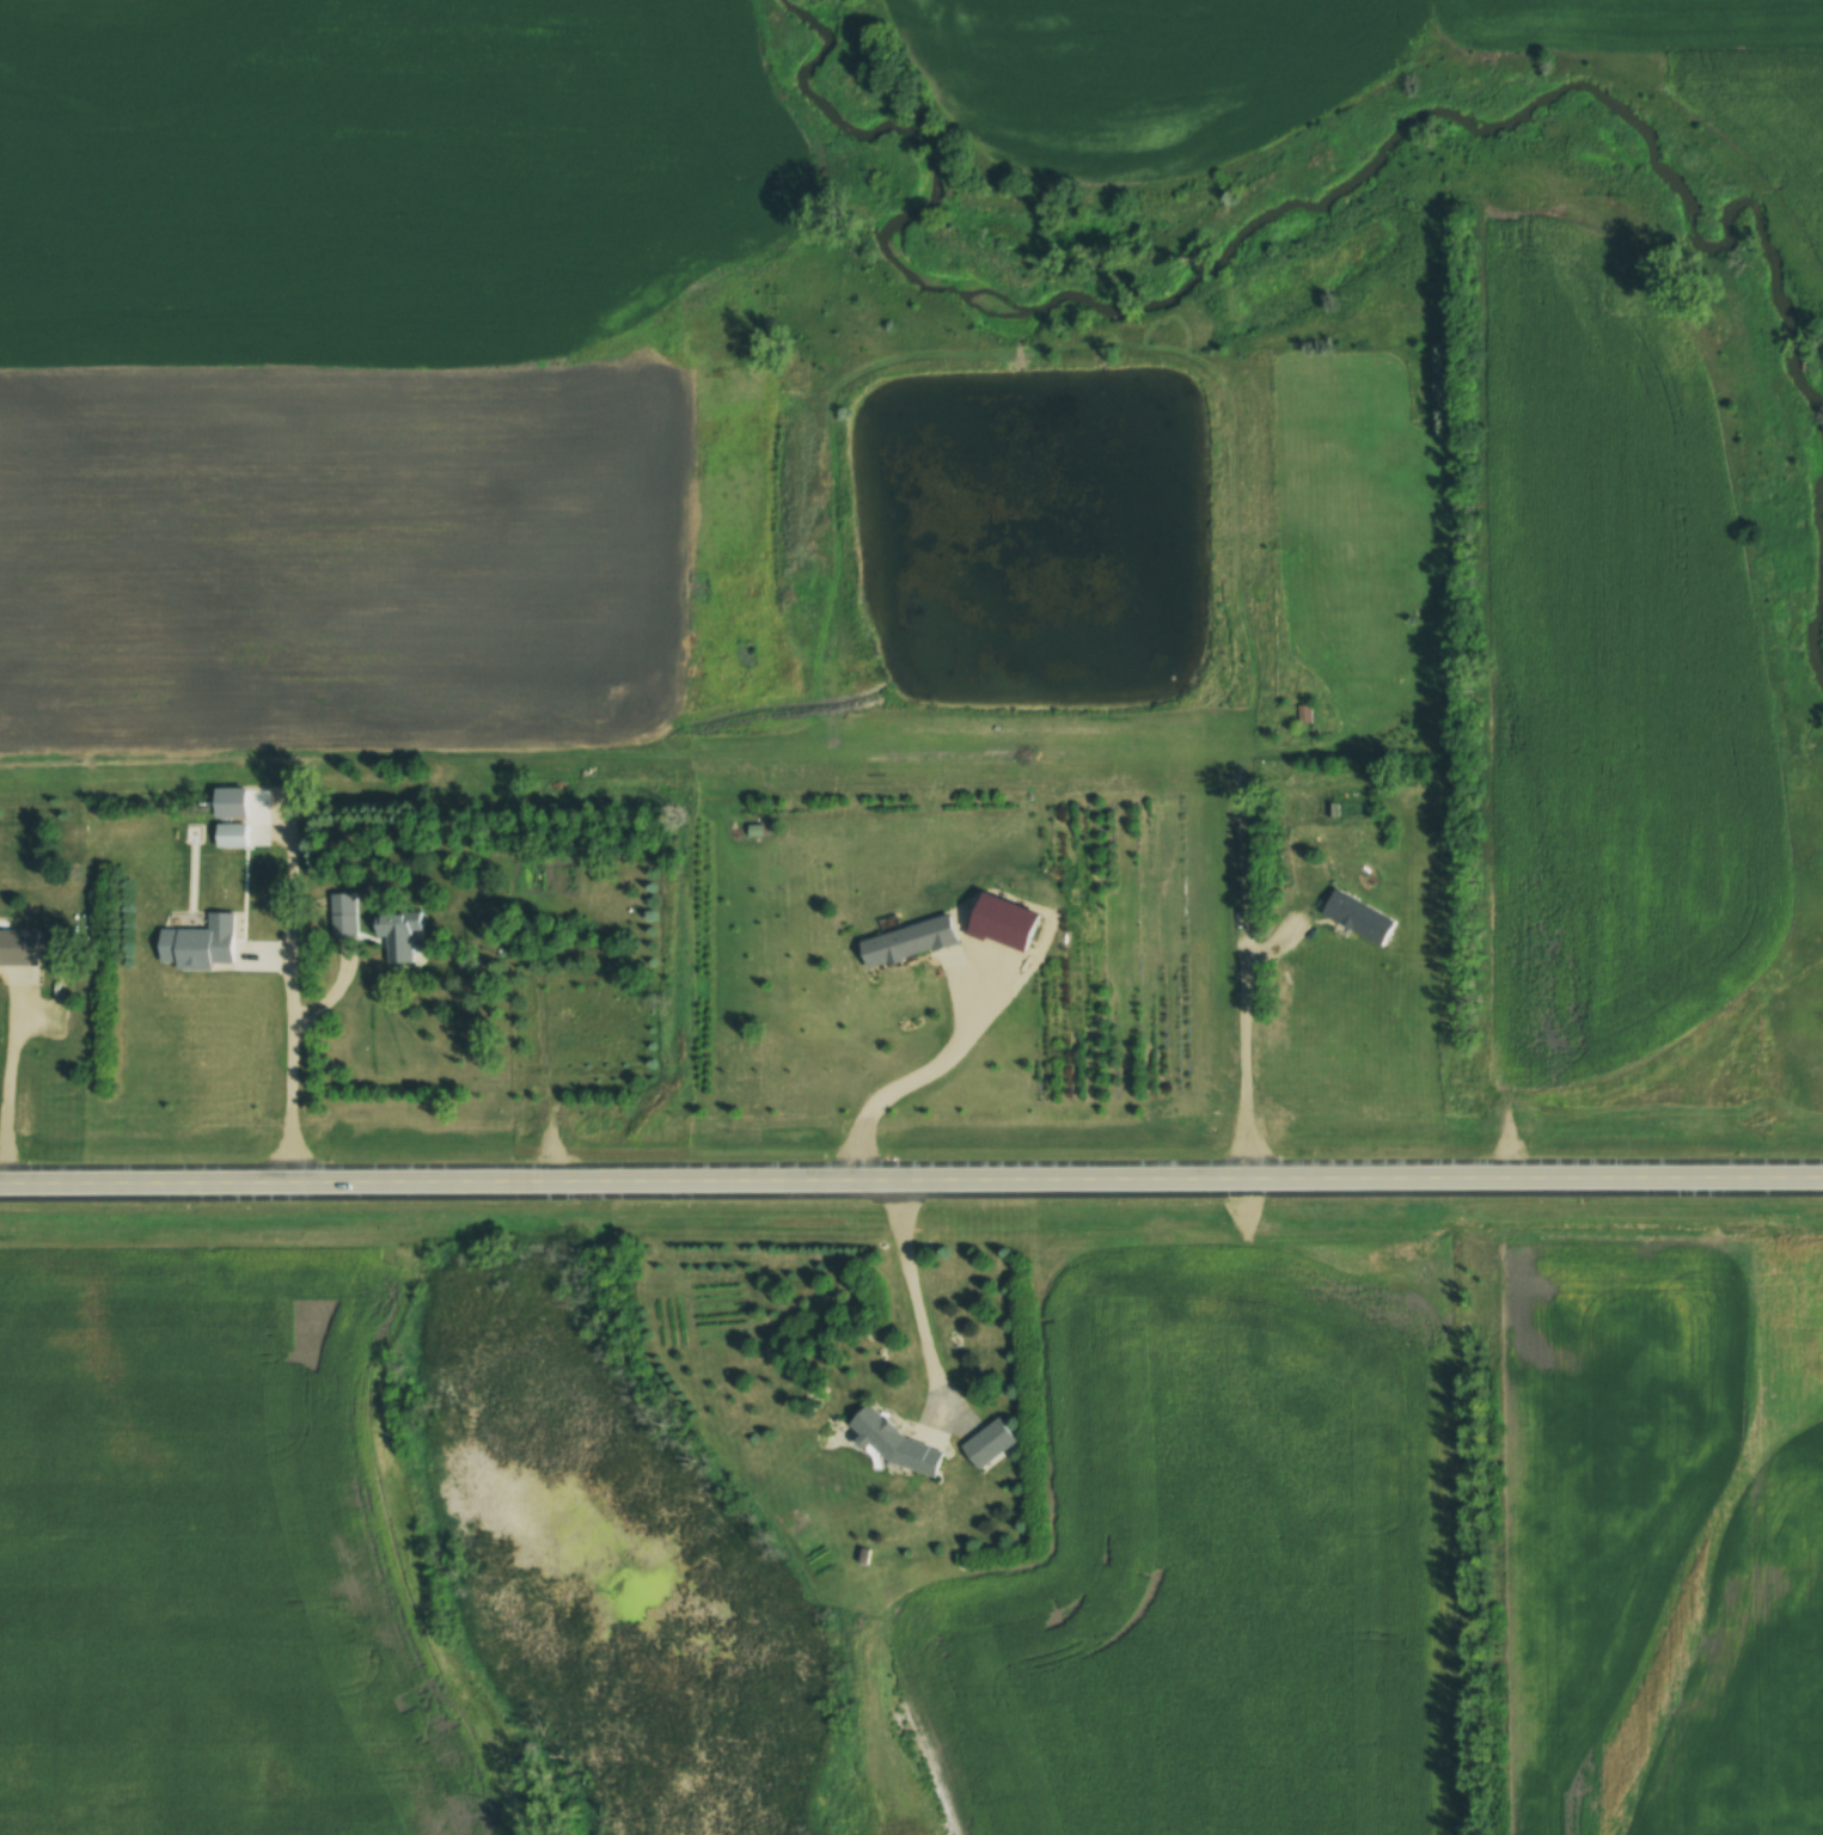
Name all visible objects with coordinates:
river: (1278, 232)
river: (1821, 555)
building: (231, 834)
building: (343, 903)
building: (1357, 916)
building: (906, 941)
building: (197, 943)
building: (18, 947)
road: (911, 1191)
building: (986, 1443)
building: (900, 1448)

